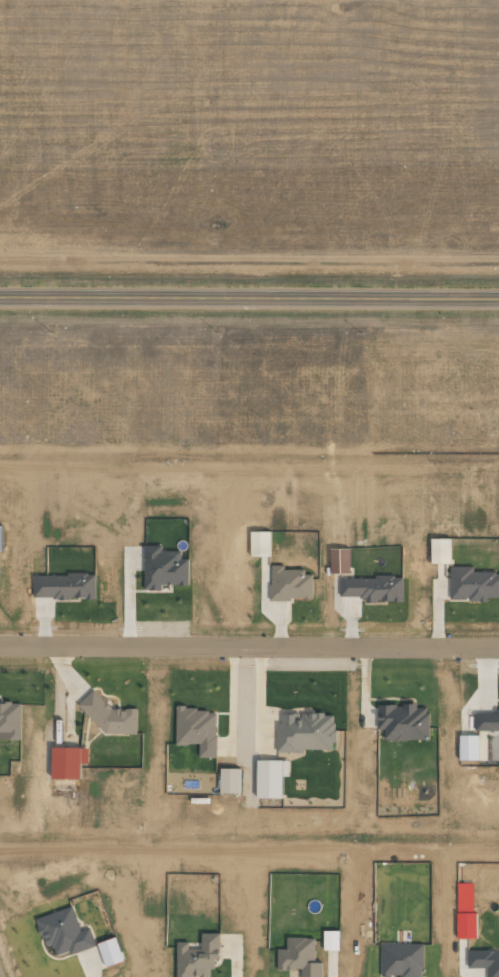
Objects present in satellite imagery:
road: (249, 300)
building: (0, 537)
building: (260, 543)
building: (440, 550)
building: (164, 568)
building: (290, 583)
building: (473, 584)
building: (64, 586)
building: (373, 588)
road: (249, 644)
building: (112, 716)
building: (10, 721)
building: (403, 721)
building: (487, 721)
building: (197, 730)
building: (306, 732)
building: (469, 747)
building: (68, 761)
building: (271, 778)
building: (466, 925)
building: (64, 932)
building: (331, 940)
building: (110, 952)
building: (198, 956)
building: (300, 957)
building: (402, 960)
building: (485, 961)

